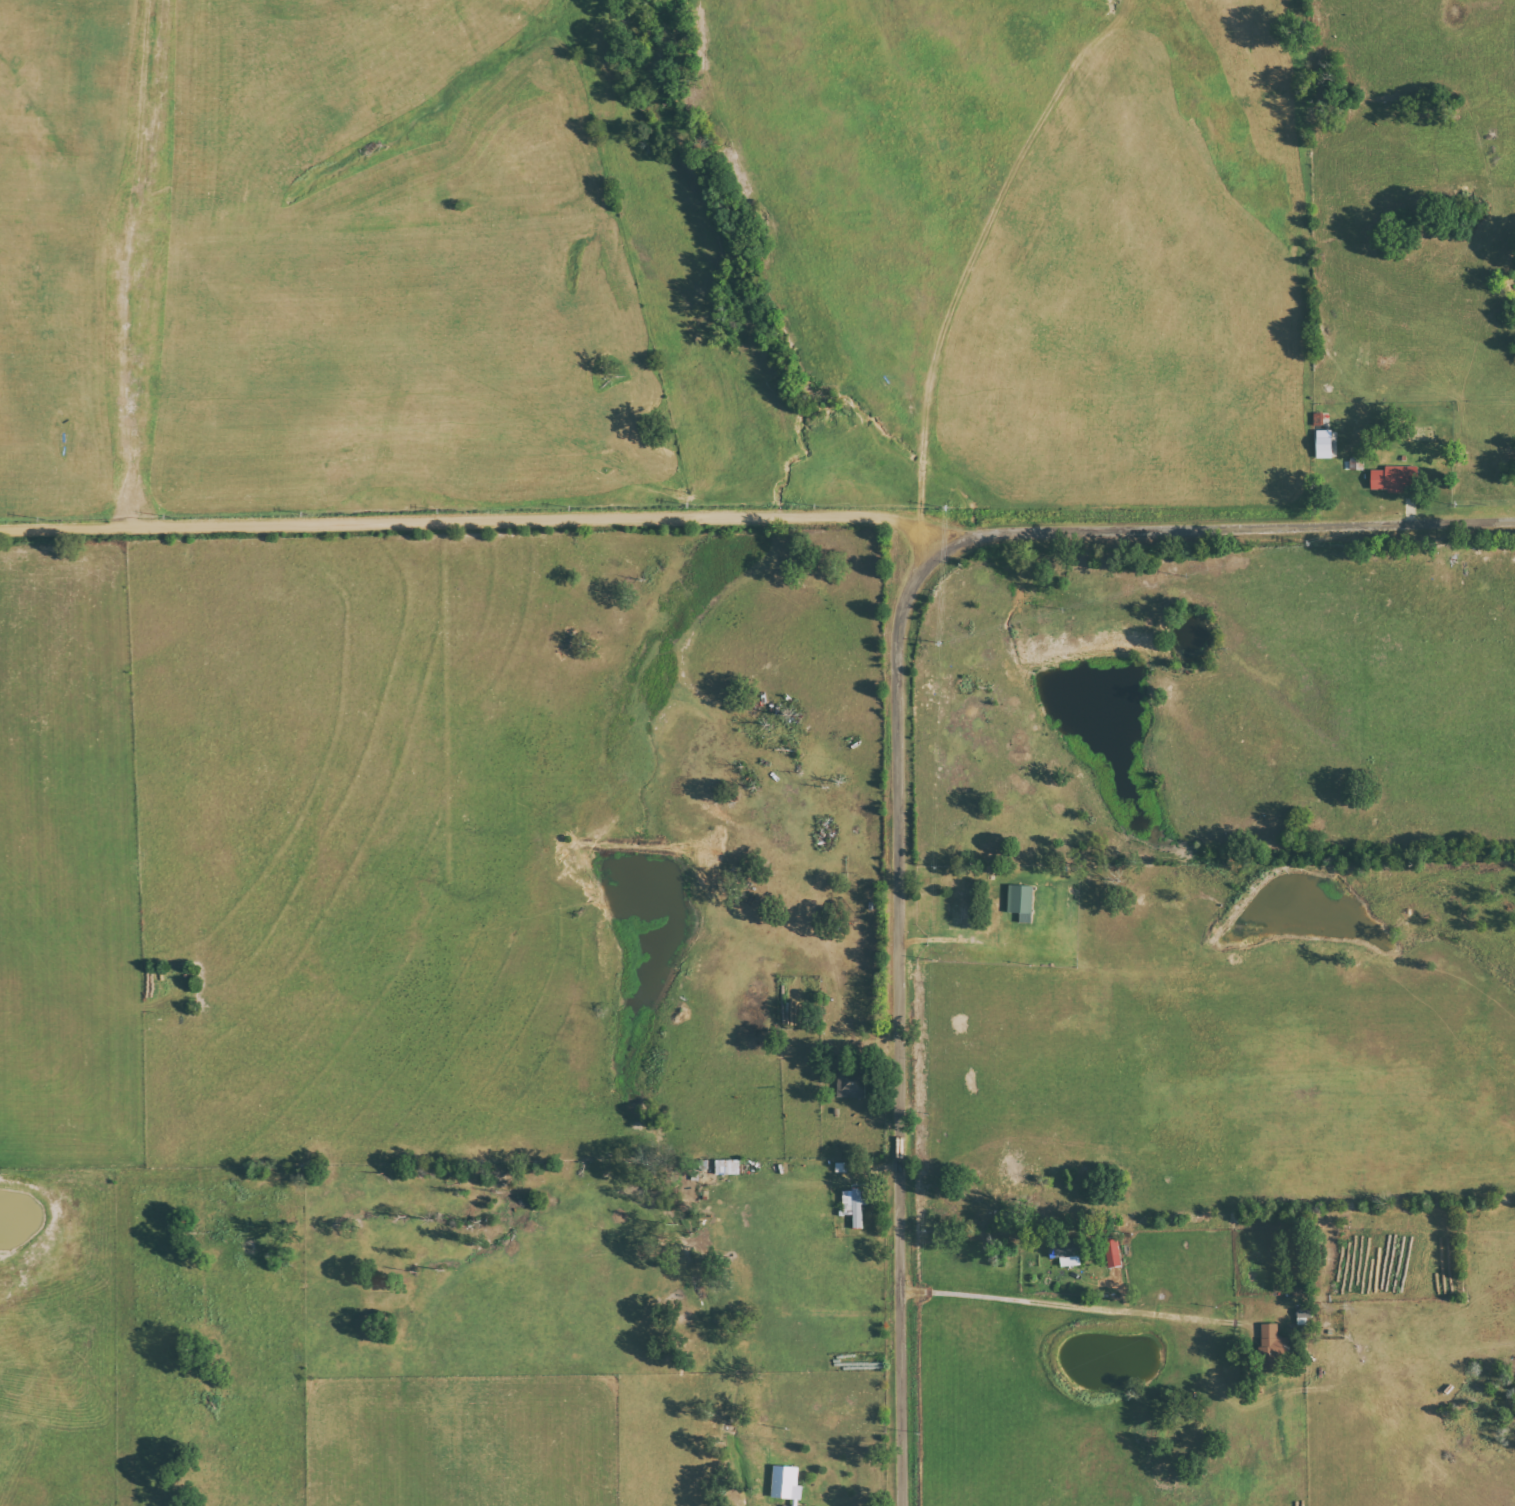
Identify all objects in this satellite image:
building: (1323, 444)
building: (1357, 463)
building: (1394, 478)
road: (477, 522)
road: (1228, 529)
building: (1019, 899)
road: (899, 1019)
building: (851, 1084)
building: (855, 1204)
building: (1063, 1250)
building: (1112, 1253)
building: (1273, 1346)
building: (786, 1483)

